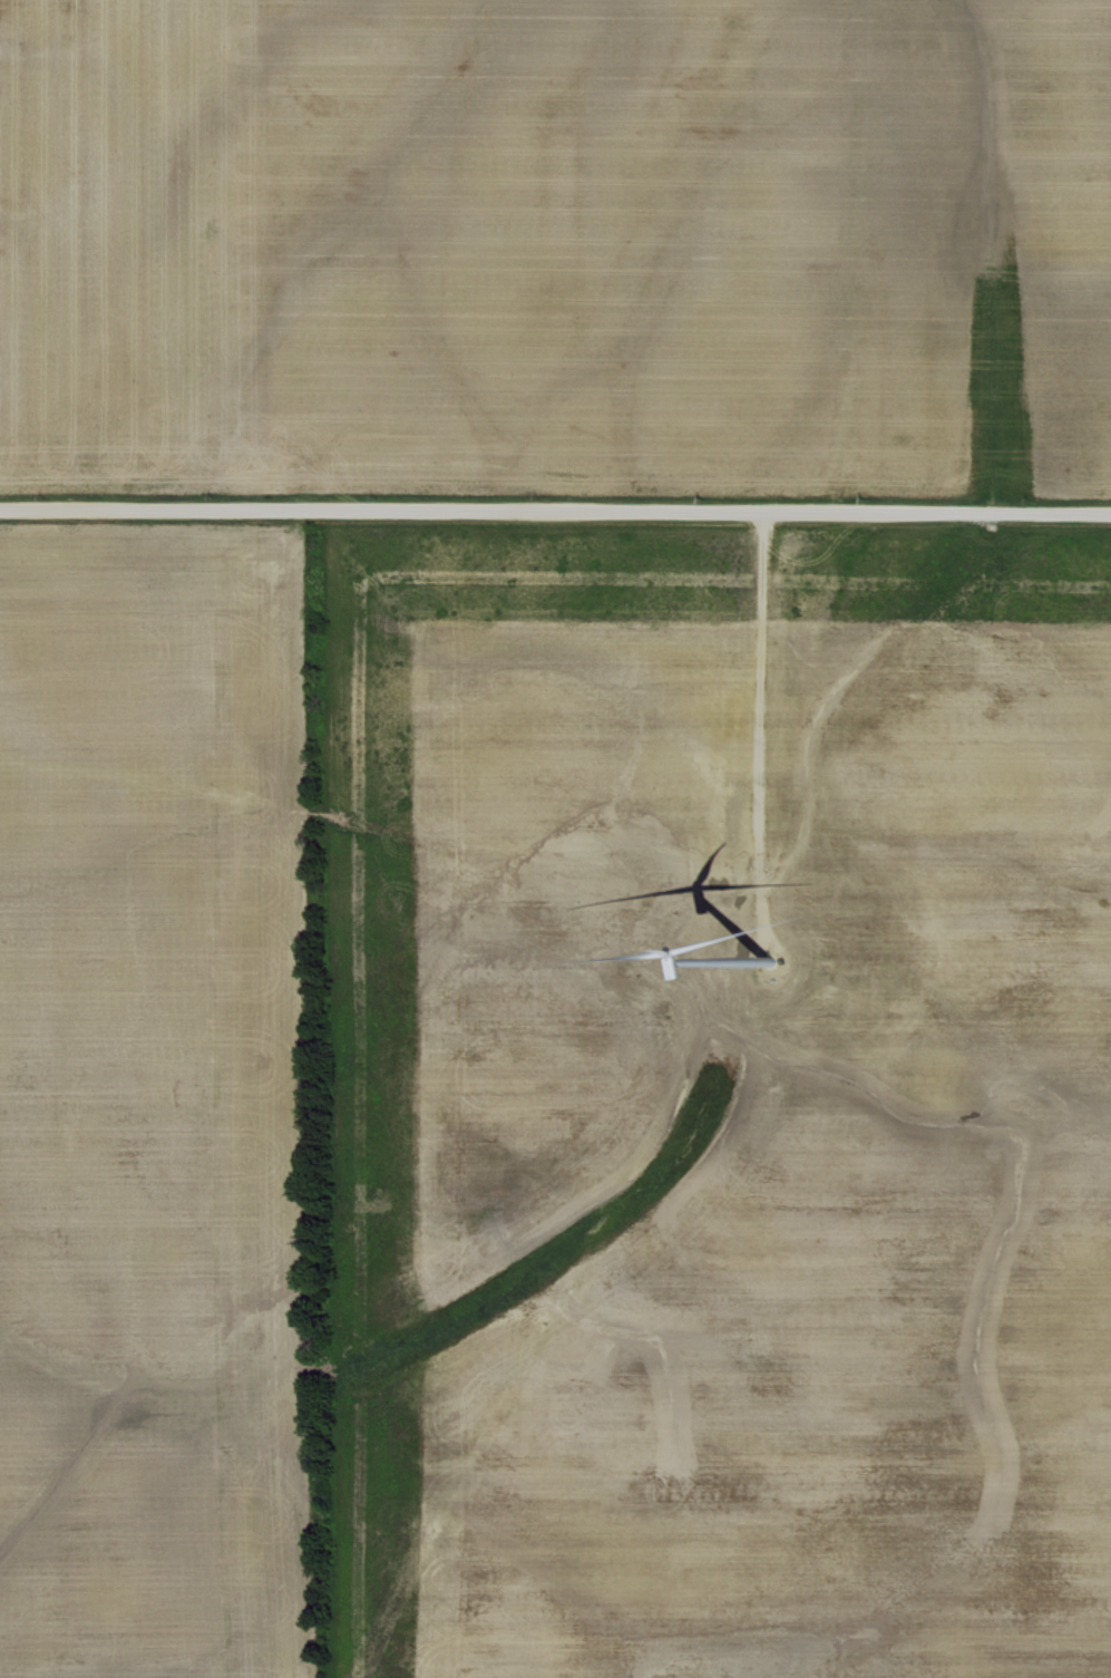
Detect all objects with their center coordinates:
road: (555, 510)
wind turbine: (762, 962)

